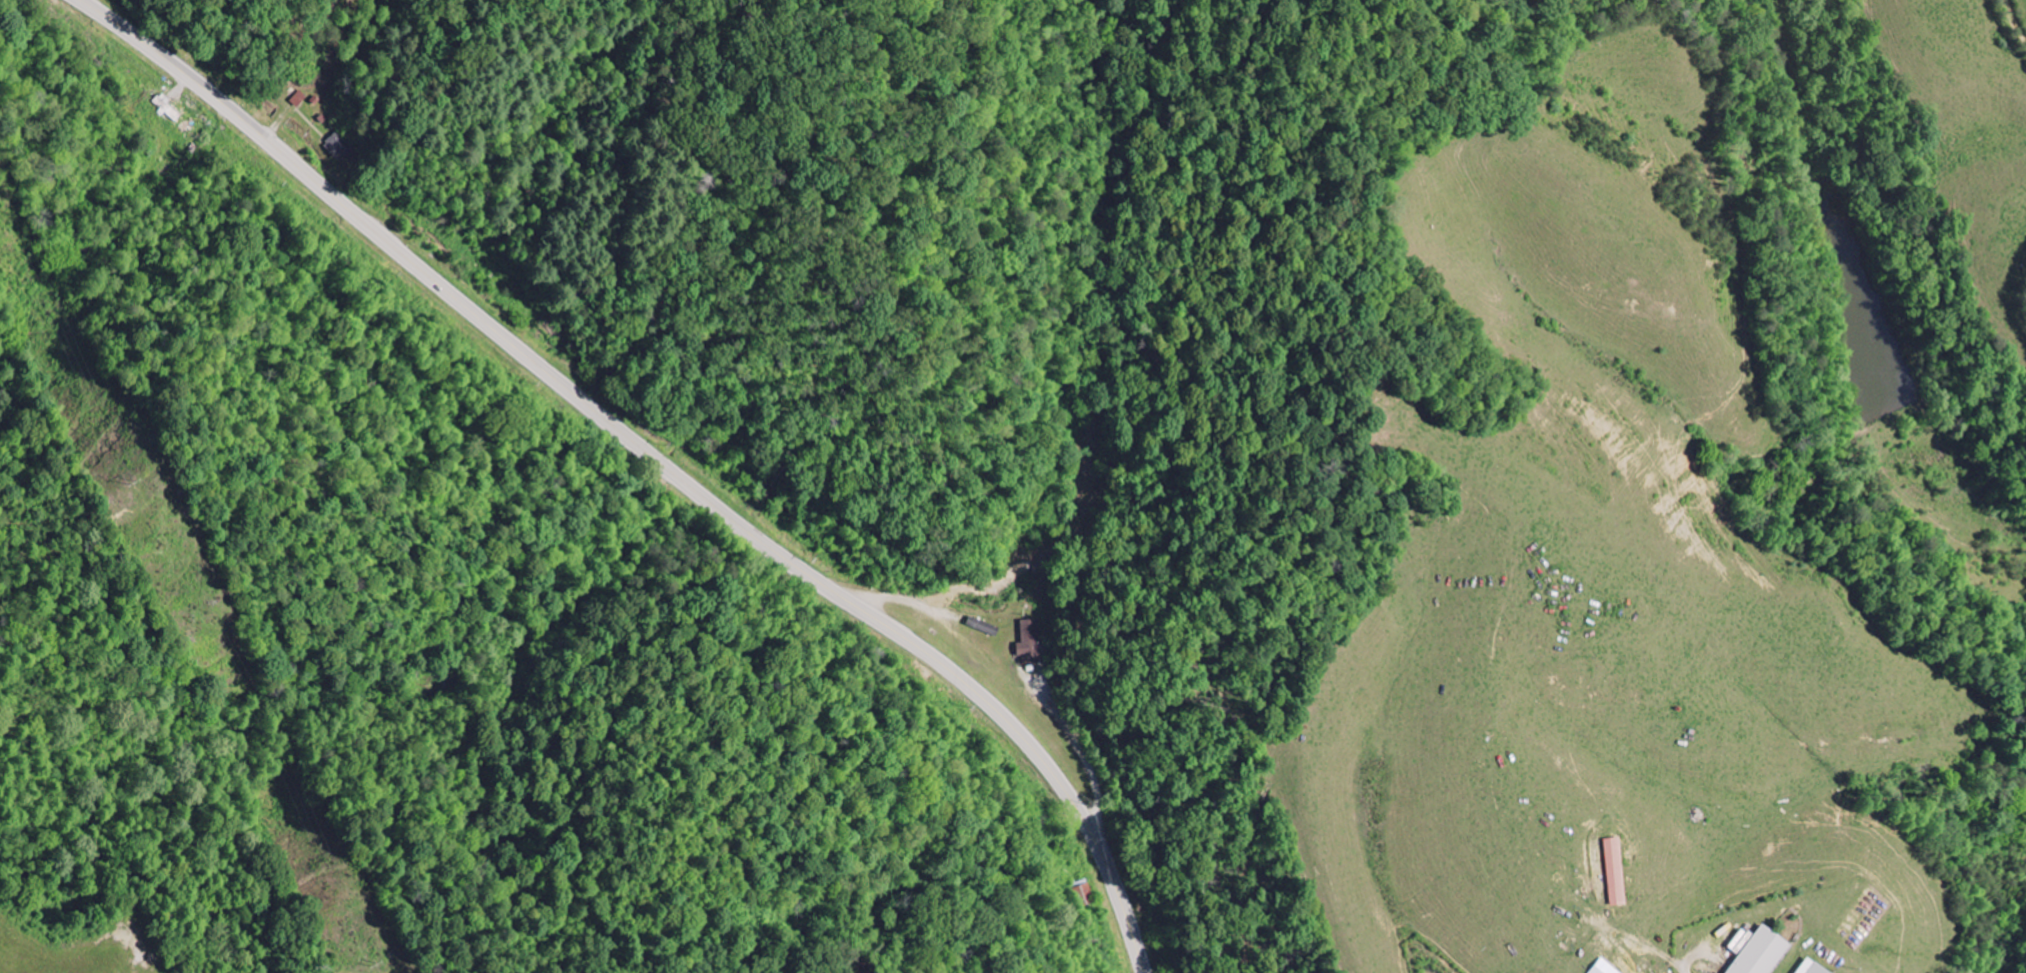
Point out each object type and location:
road: (2016, 19)
road: (653, 456)
building: (1614, 872)
building: (1761, 953)
building: (1601, 967)
building: (1808, 968)

